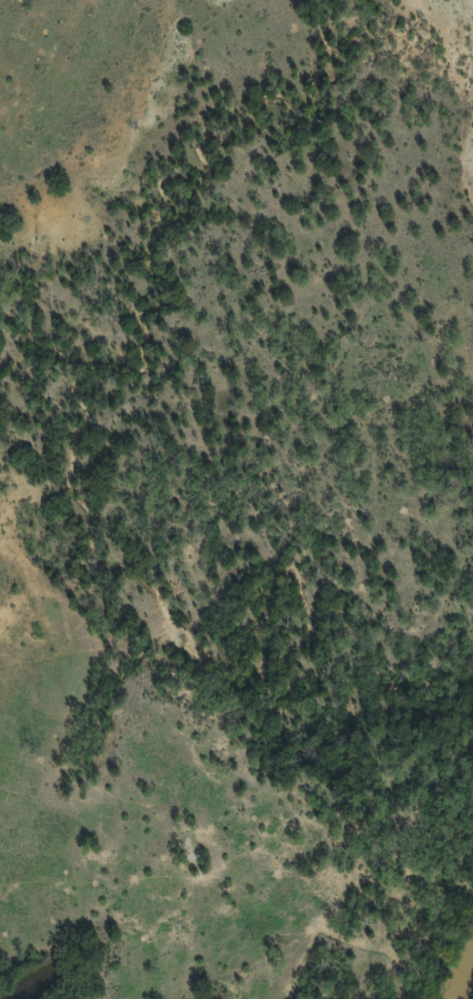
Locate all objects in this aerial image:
road: (256, 991)

